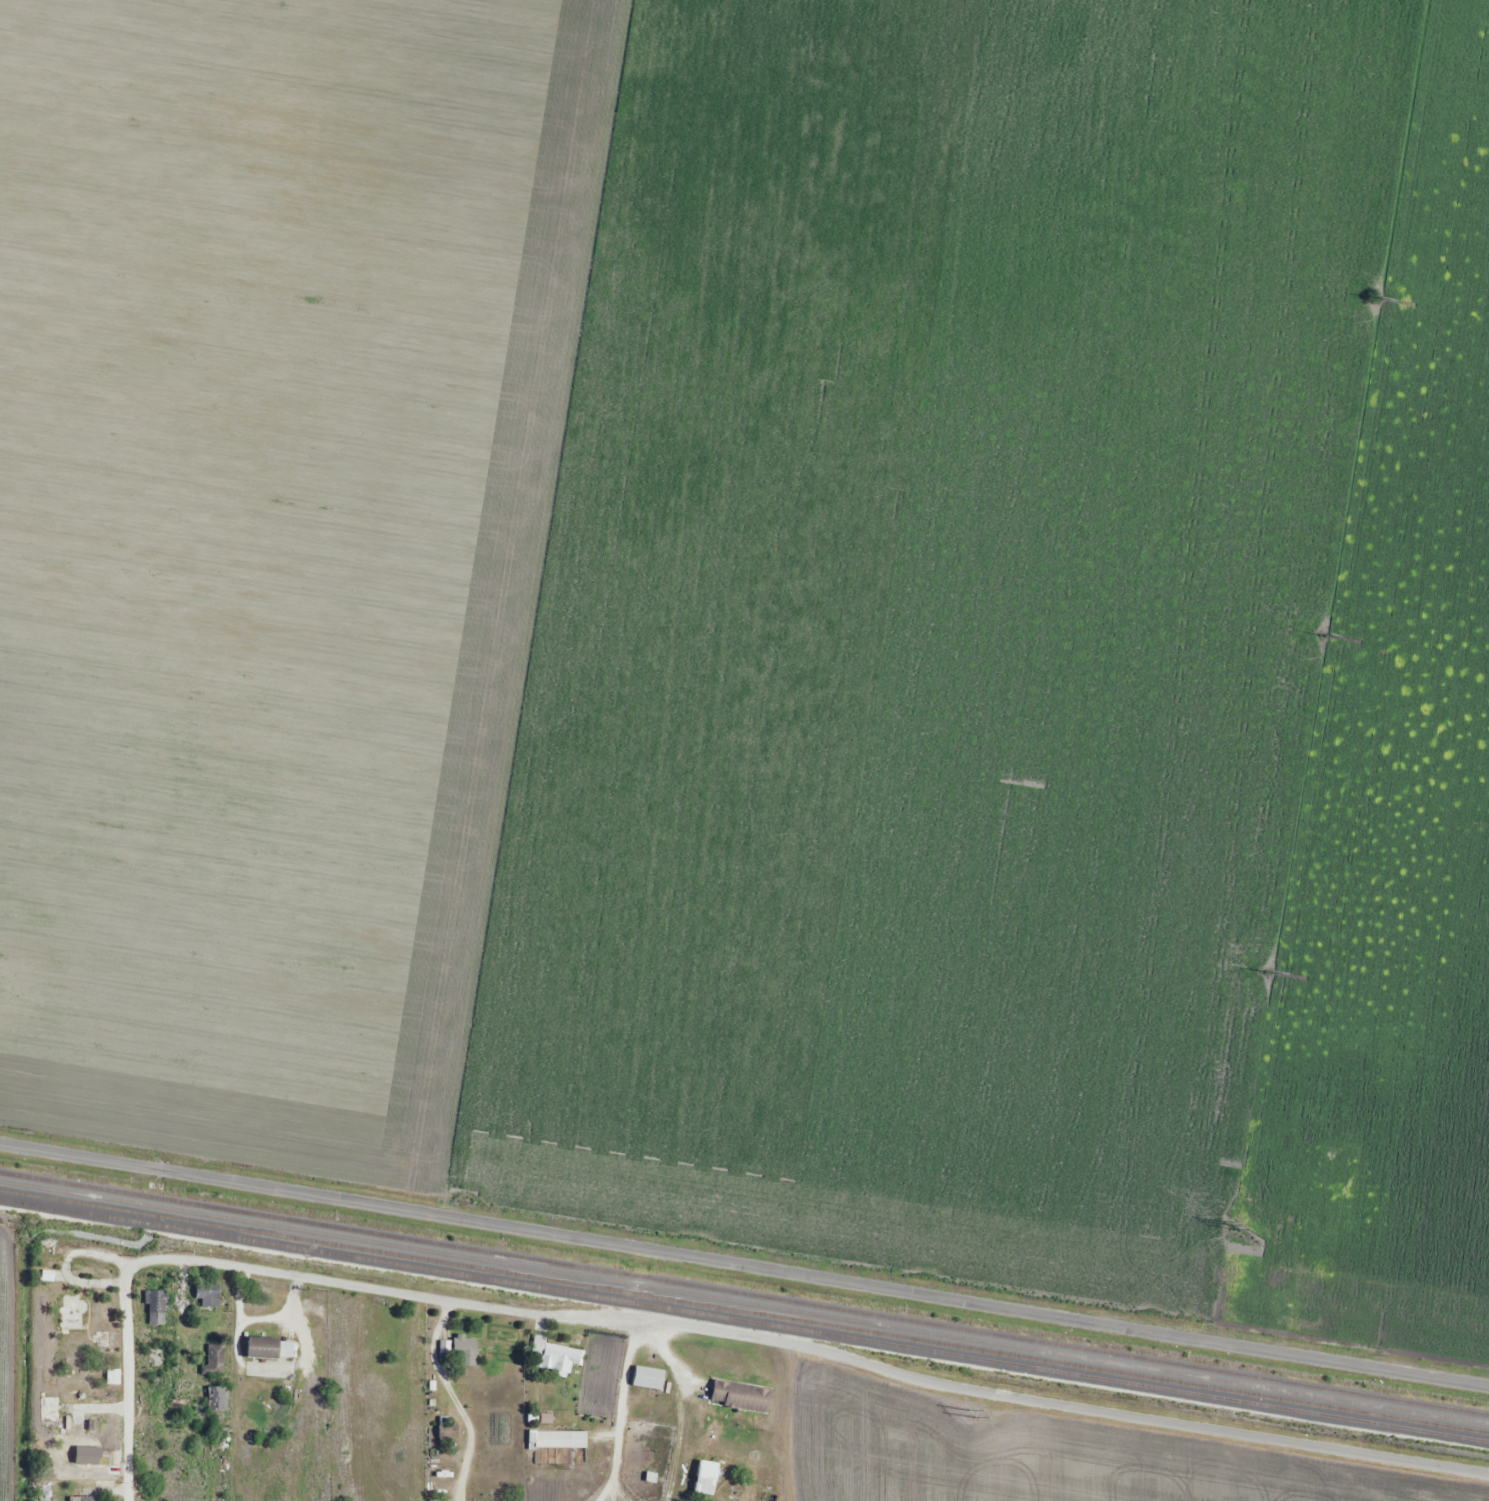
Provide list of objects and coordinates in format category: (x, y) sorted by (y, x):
power tower: (1374, 298)
crop: (769, 622)
power tower: (1321, 634)
power tower: (1267, 972)
building: (1330, 1166)
power tower: (1229, 1223)
road: (744, 1265)
road: (381, 1289)
building: (207, 1296)
railway: (744, 1299)
building: (156, 1307)
railway: (744, 1310)
building: (71, 1312)
road: (638, 1324)
building: (263, 1347)
building: (466, 1352)
building: (553, 1355)
building: (157, 1359)
building: (215, 1360)
building: (649, 1378)
road: (127, 1385)
building: (733, 1386)
building: (217, 1398)
building: (51, 1409)
road: (1059, 1410)
power tower: (971, 1413)
building: (448, 1429)
building: (558, 1439)
road: (605, 1489)
building: (87, 1498)
building: (300, 1498)

